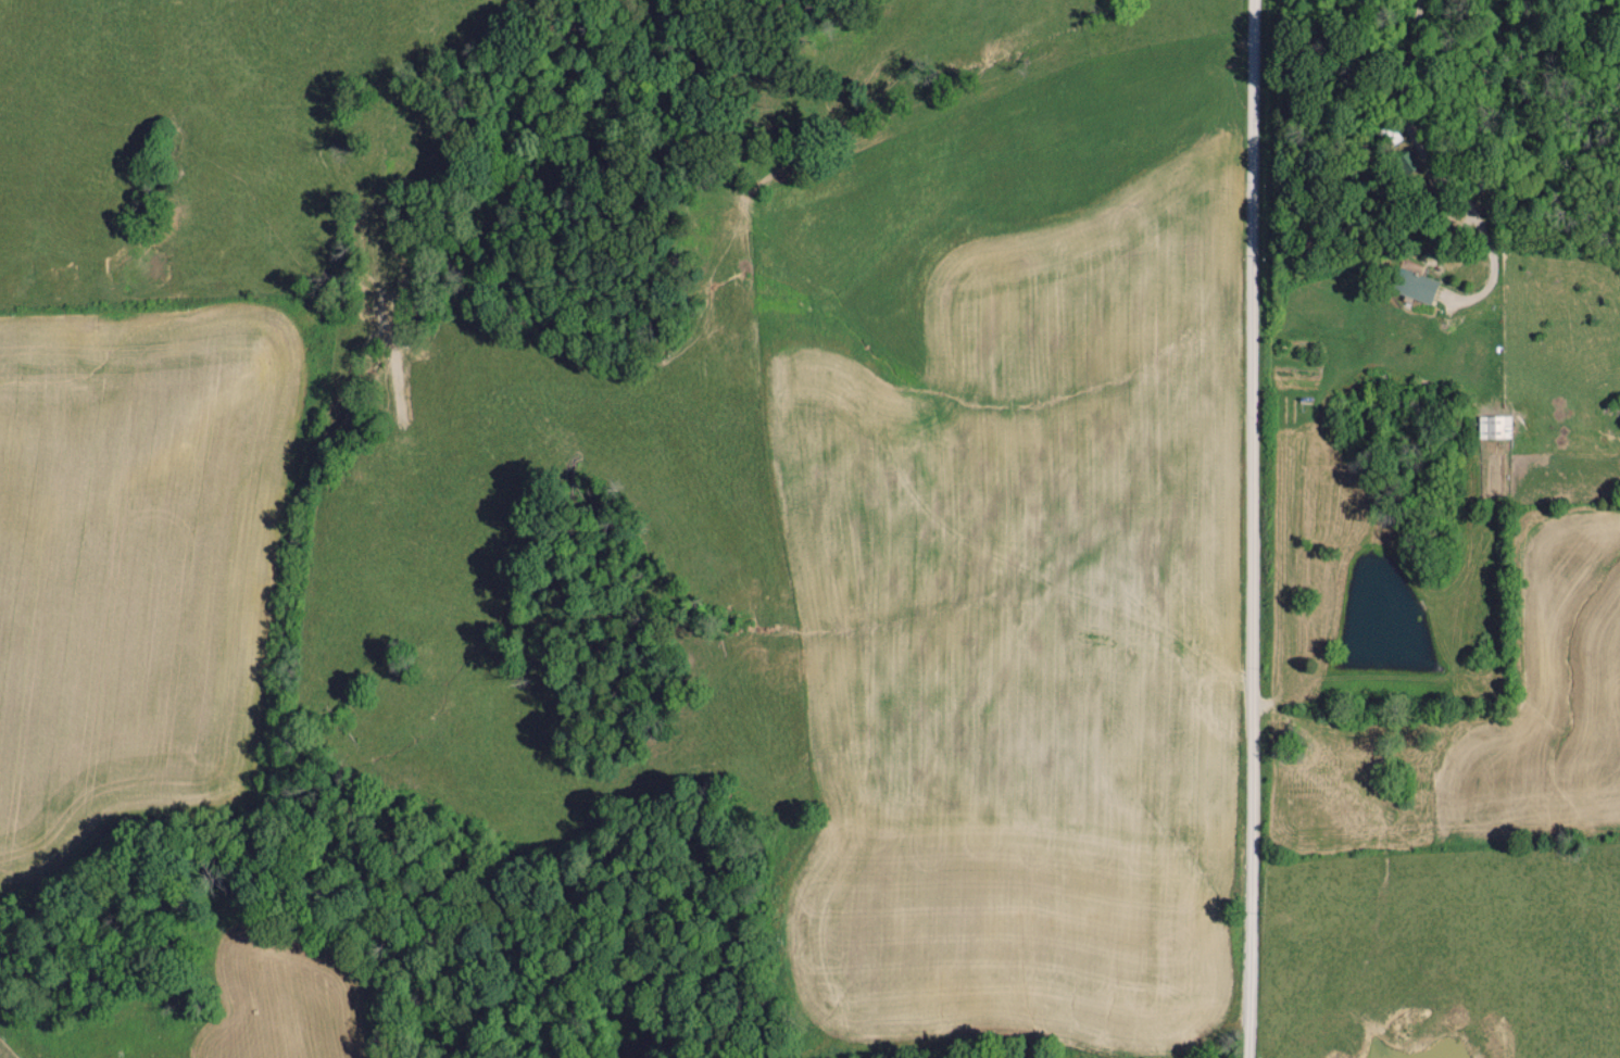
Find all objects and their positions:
road: (1429, 159)
building: (1412, 285)
building: (1493, 426)
road: (1248, 528)

